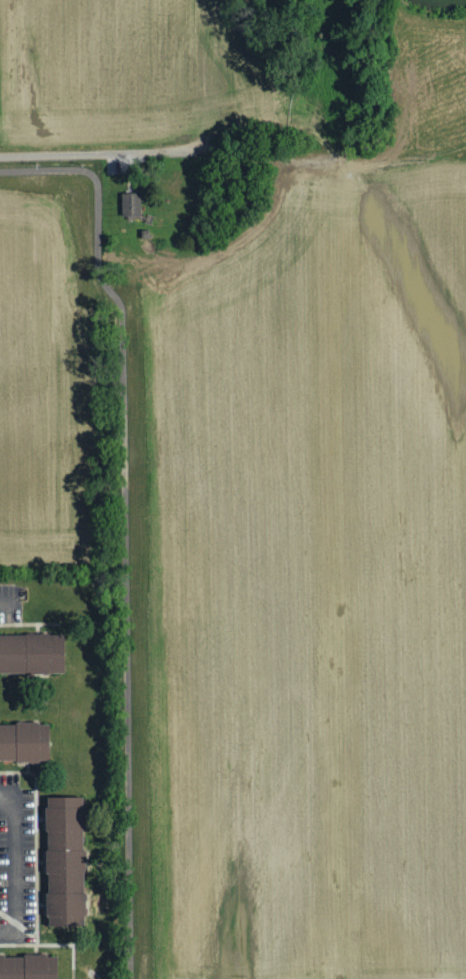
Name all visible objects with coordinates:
road: (189, 151)
building: (130, 206)
road: (126, 523)
road: (5, 604)
building: (32, 651)
building: (25, 740)
building: (66, 859)
road: (14, 867)
building: (28, 967)

